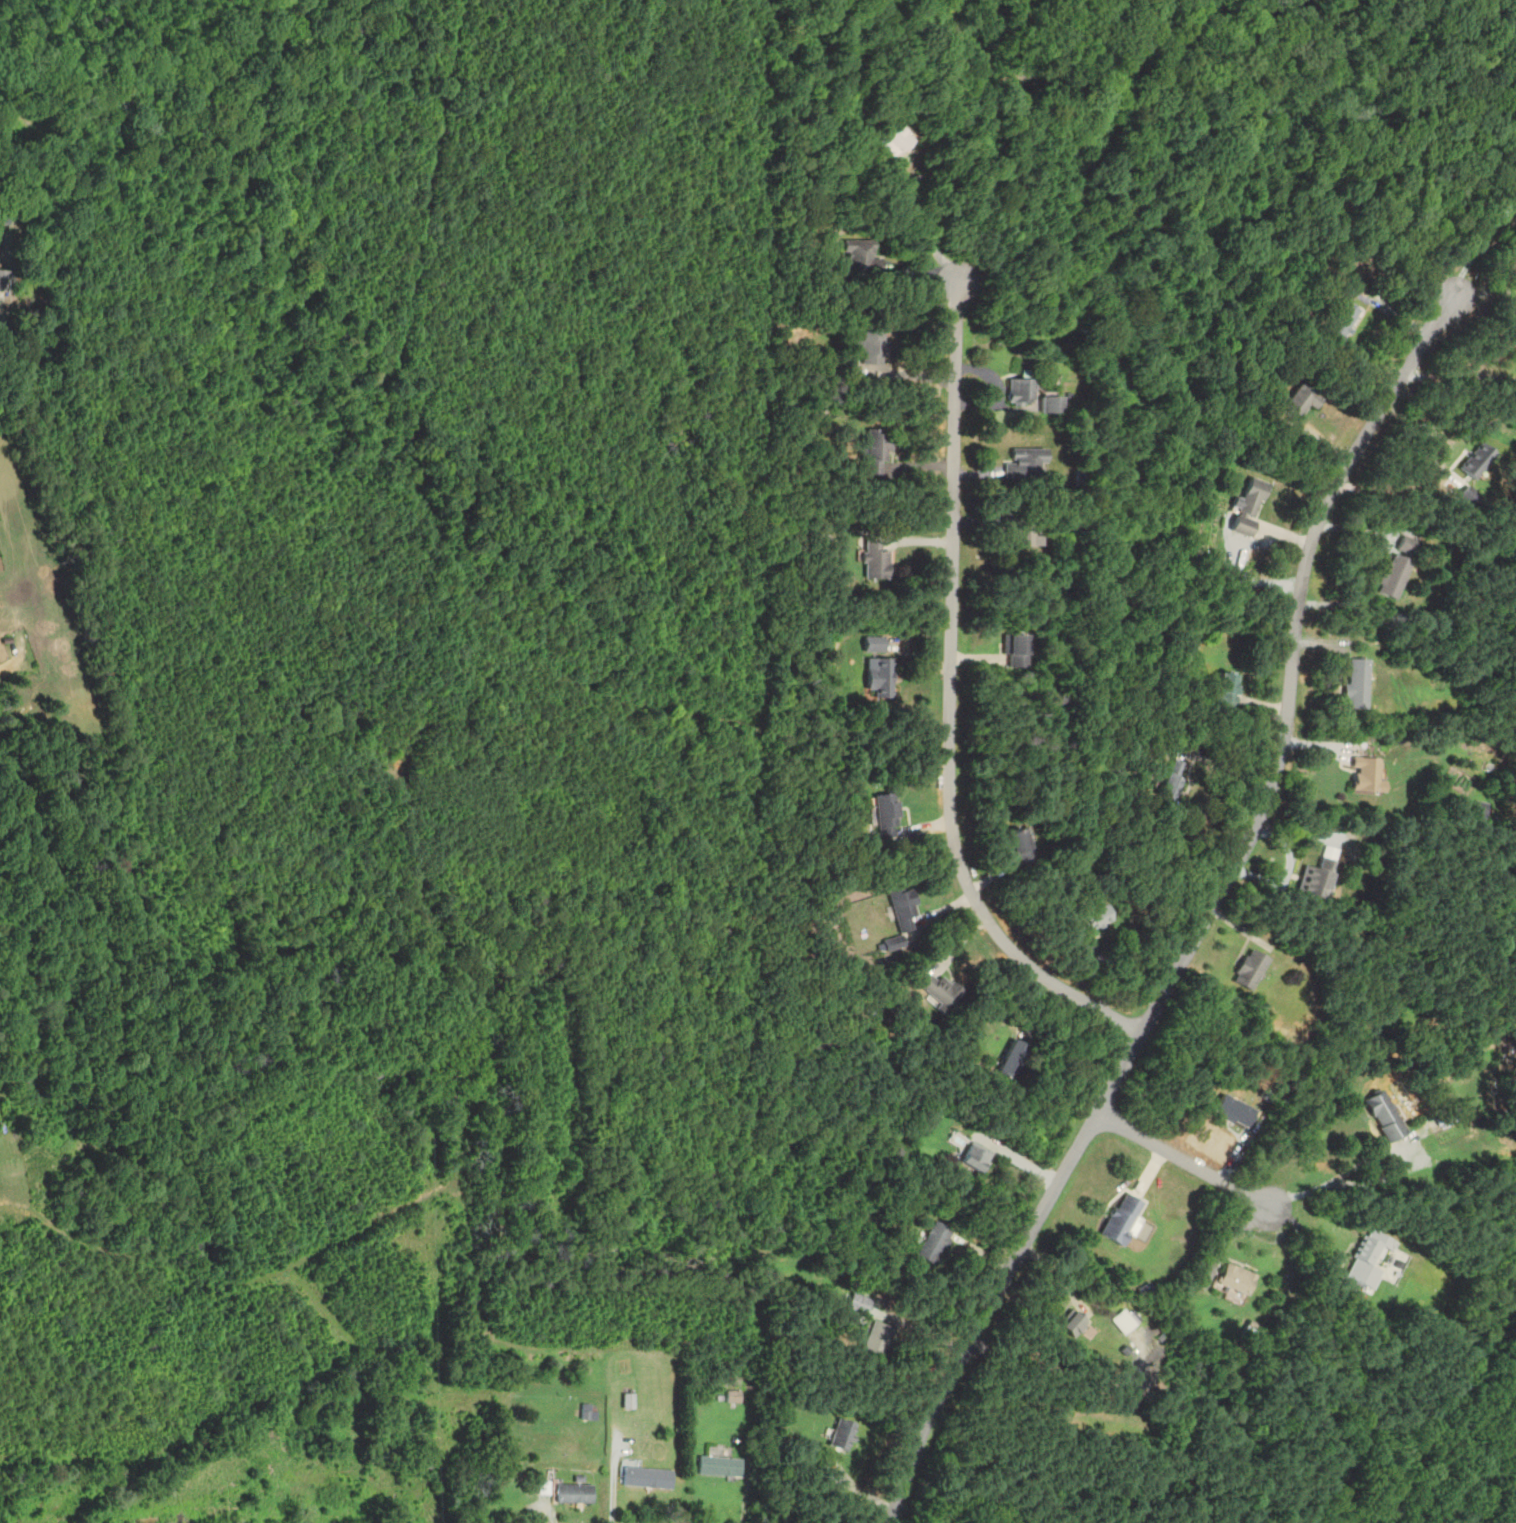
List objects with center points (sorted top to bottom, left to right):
building: (892, 140)
road: (922, 223)
road: (1479, 244)
building: (862, 257)
building: (5, 280)
road: (1484, 289)
building: (1343, 320)
building: (871, 345)
road: (1459, 374)
building: (1021, 388)
building: (1303, 399)
building: (1052, 403)
building: (879, 451)
building: (1474, 460)
building: (1025, 463)
road: (1395, 487)
building: (1249, 507)
building: (1021, 531)
building: (876, 559)
building: (1394, 566)
building: (875, 647)
building: (1015, 652)
building: (880, 677)
building: (1353, 682)
building: (1227, 690)
road: (948, 700)
building: (1363, 774)
building: (1171, 780)
building: (887, 815)
building: (1021, 846)
building: (1313, 877)
building: (904, 908)
road: (1204, 918)
building: (1091, 920)
building: (1246, 969)
building: (940, 990)
building: (1013, 1059)
building: (1229, 1110)
building: (1380, 1115)
building: (1, 1121)
building: (976, 1158)
road: (1018, 1159)
road: (1182, 1159)
road: (1379, 1178)
building: (1123, 1218)
building: (935, 1243)
building: (1365, 1261)
building: (1231, 1279)
building: (859, 1304)
building: (1124, 1322)
building: (1075, 1324)
building: (878, 1340)
building: (842, 1435)
building: (720, 1466)
building: (648, 1478)
building: (544, 1489)
building: (576, 1493)
road: (610, 1501)
road: (745, 1504)
road: (547, 1520)

